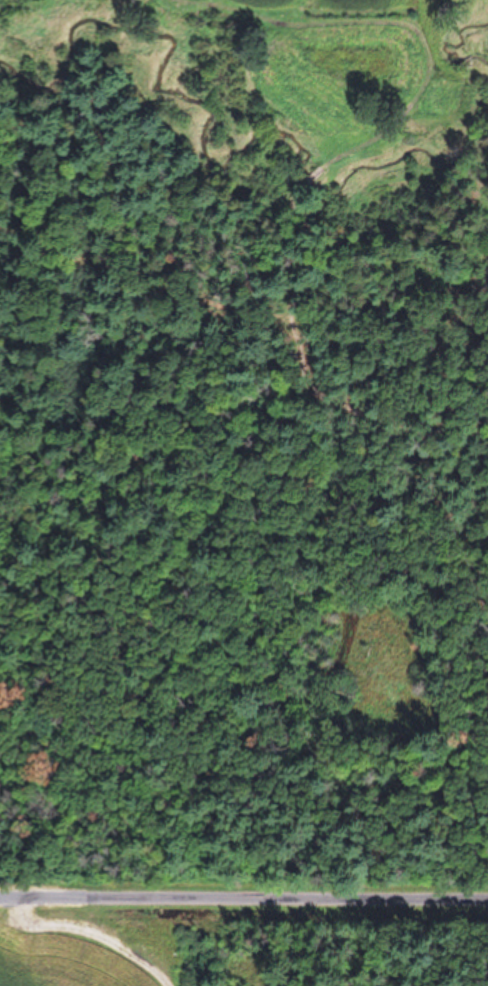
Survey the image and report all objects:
road: (244, 902)

